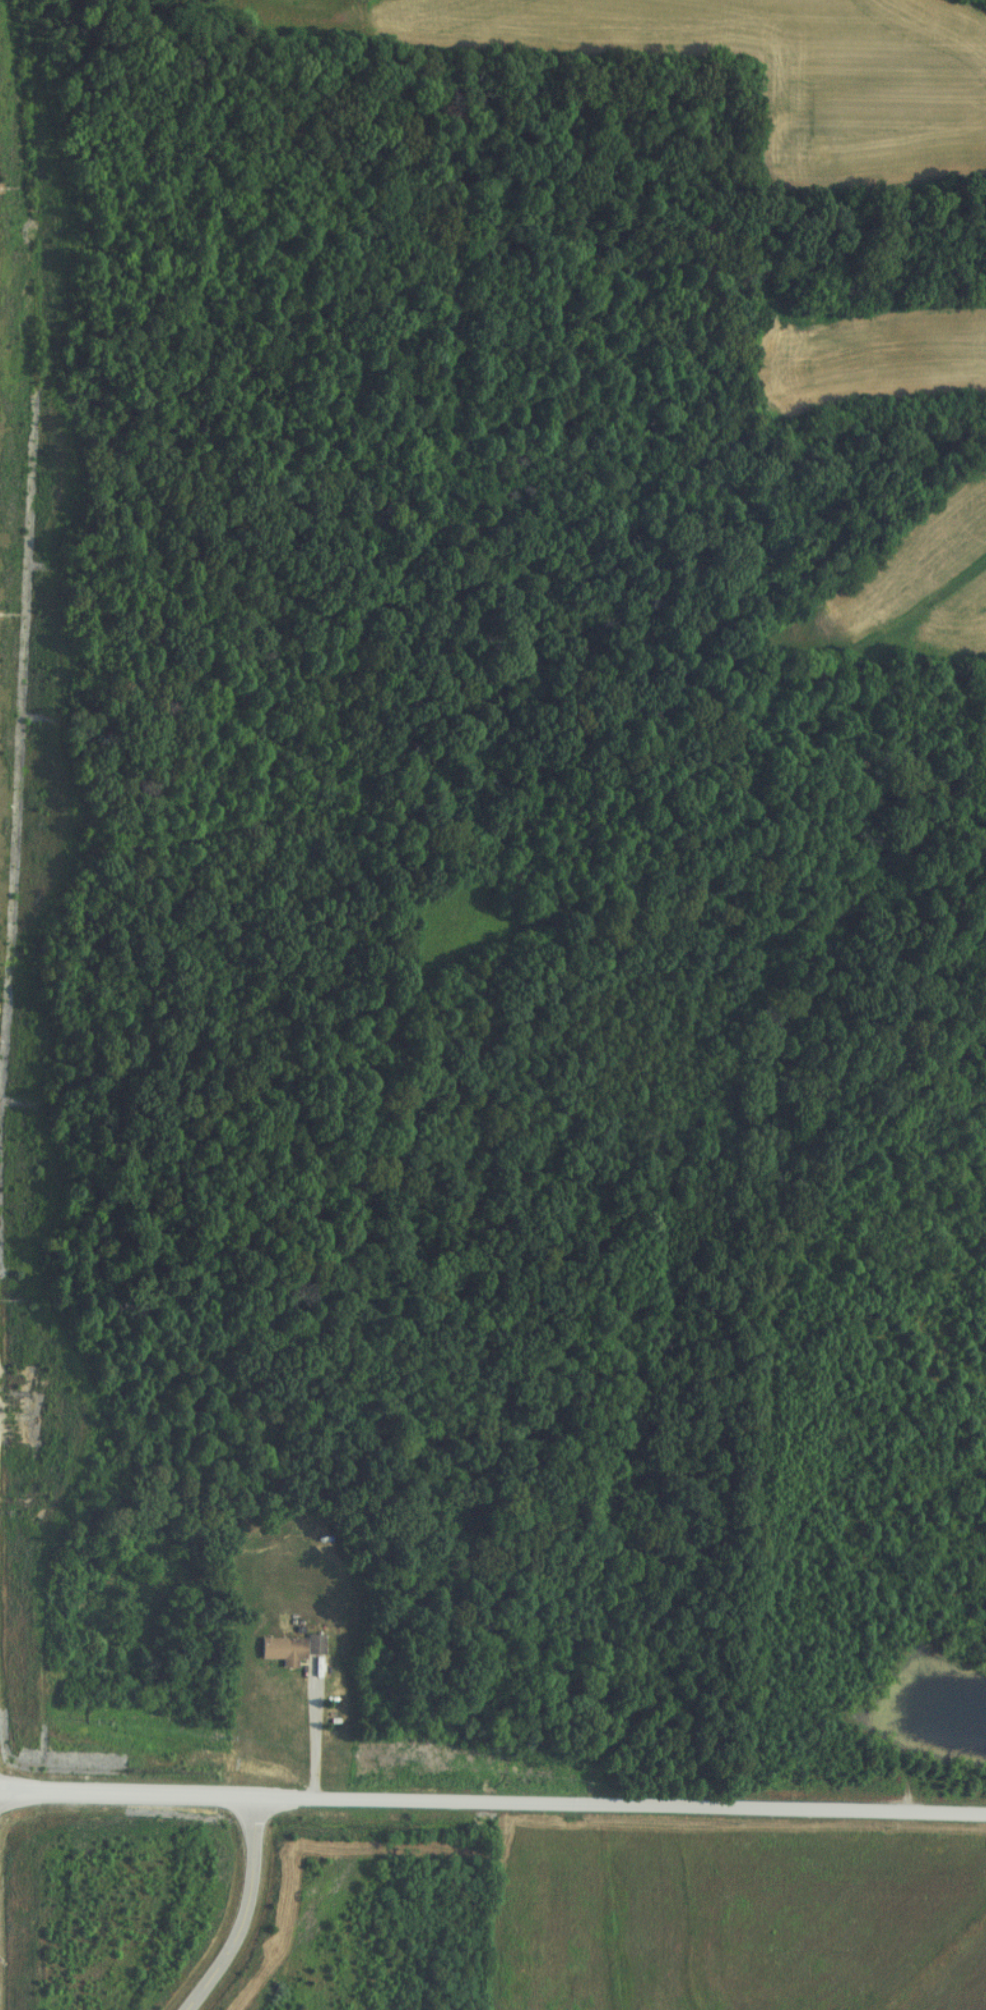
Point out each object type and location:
building: (311, 1645)
building: (279, 1651)
road: (314, 1737)
road: (492, 1804)
road: (241, 1911)

